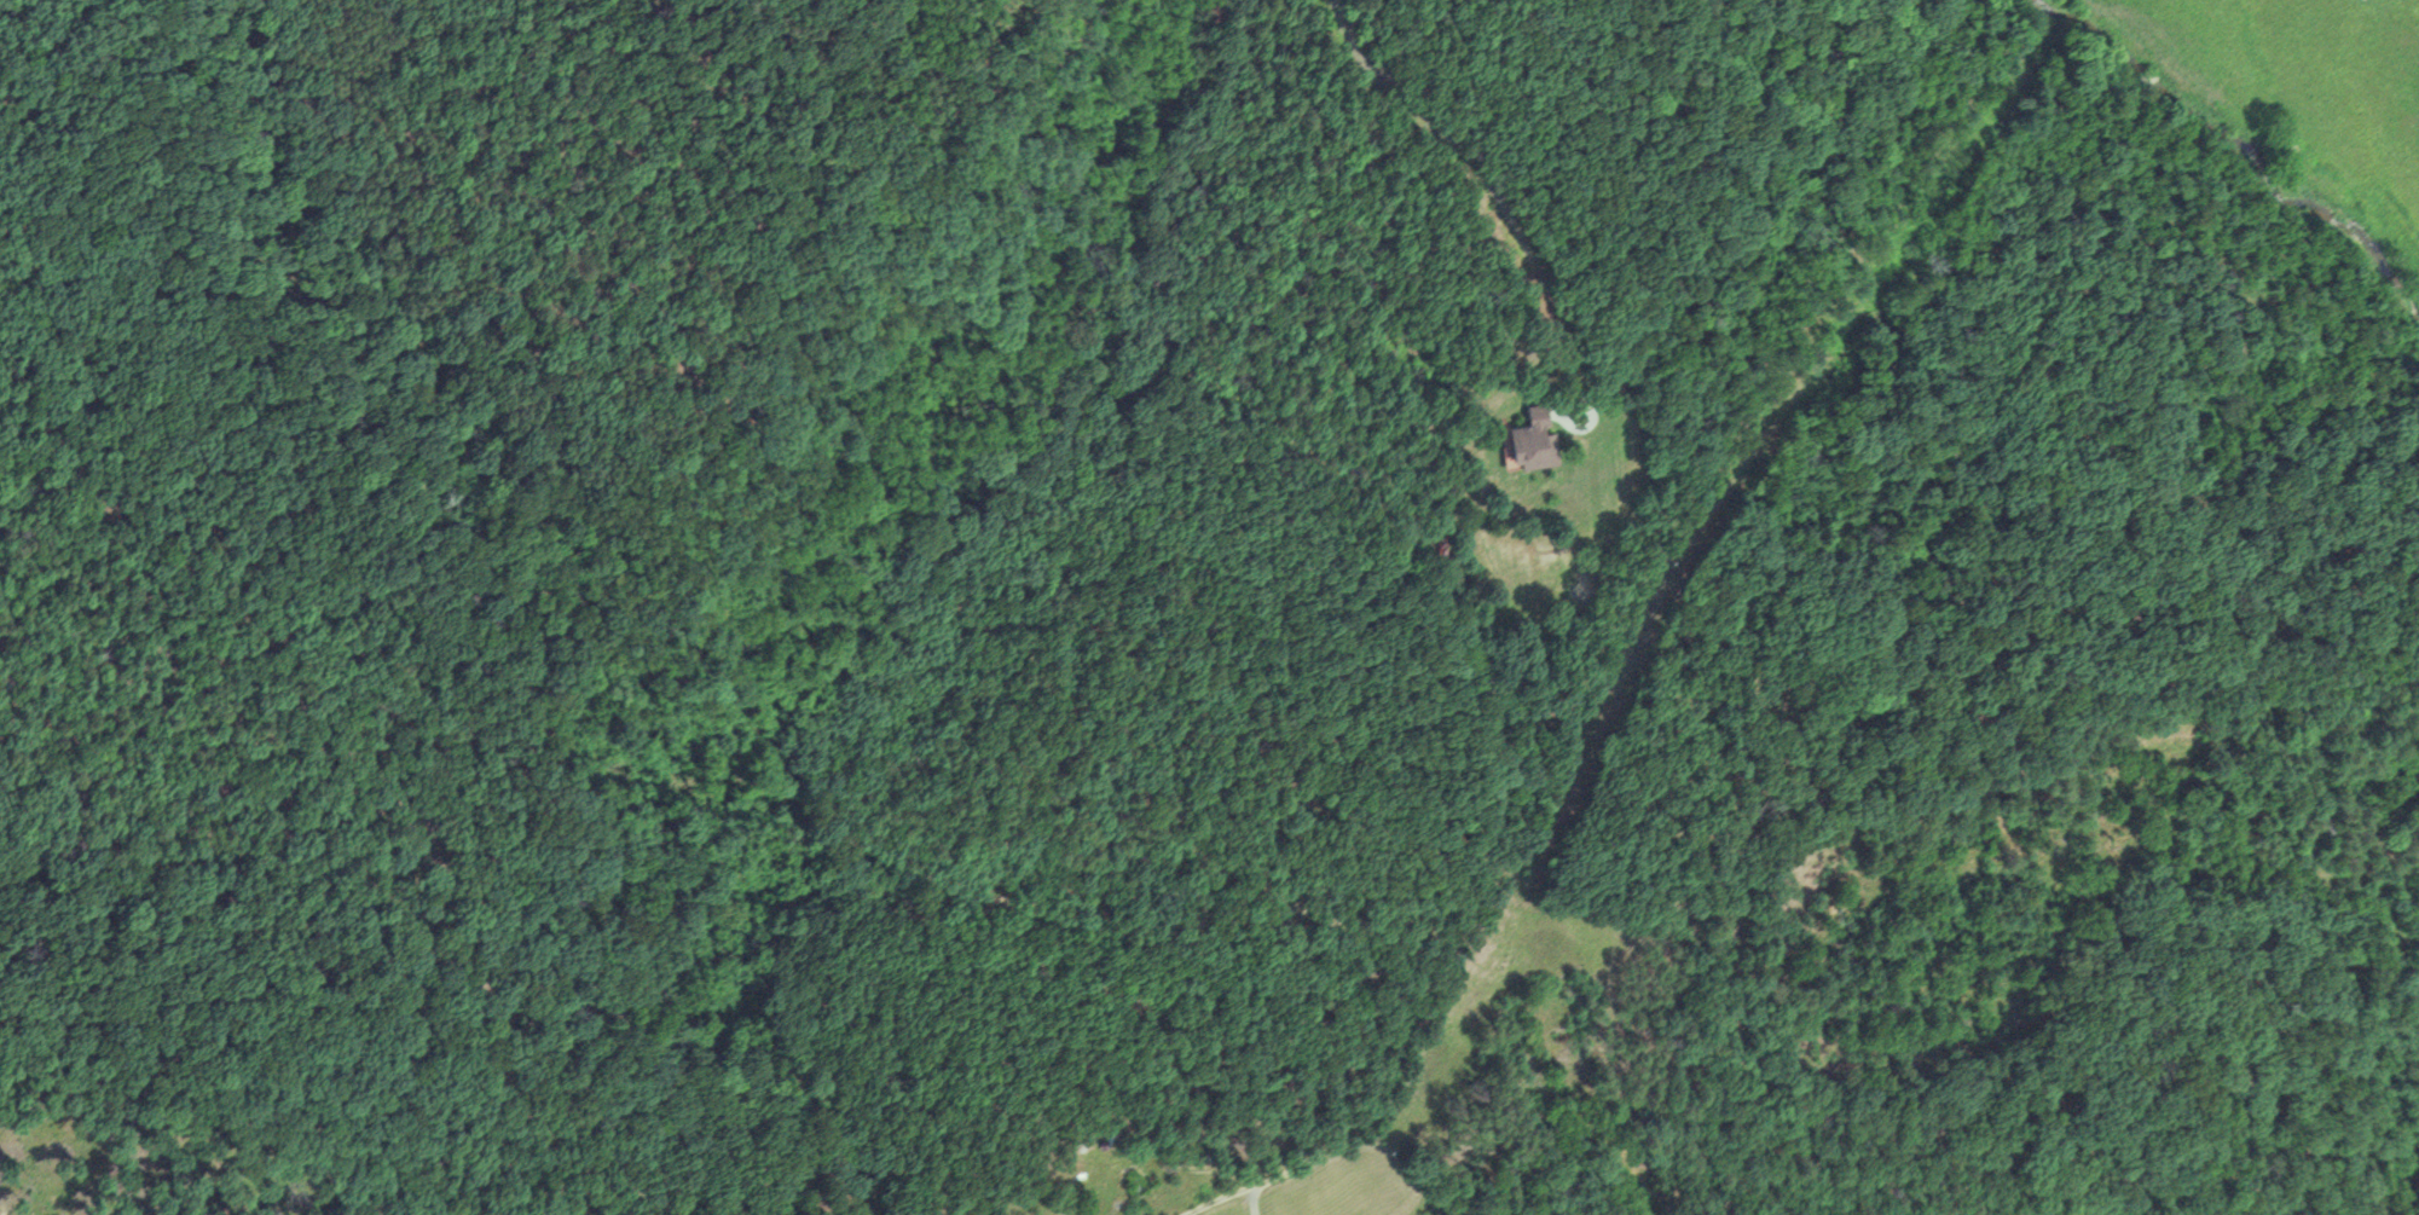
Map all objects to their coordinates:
building: (1523, 438)
building: (1133, 1181)

